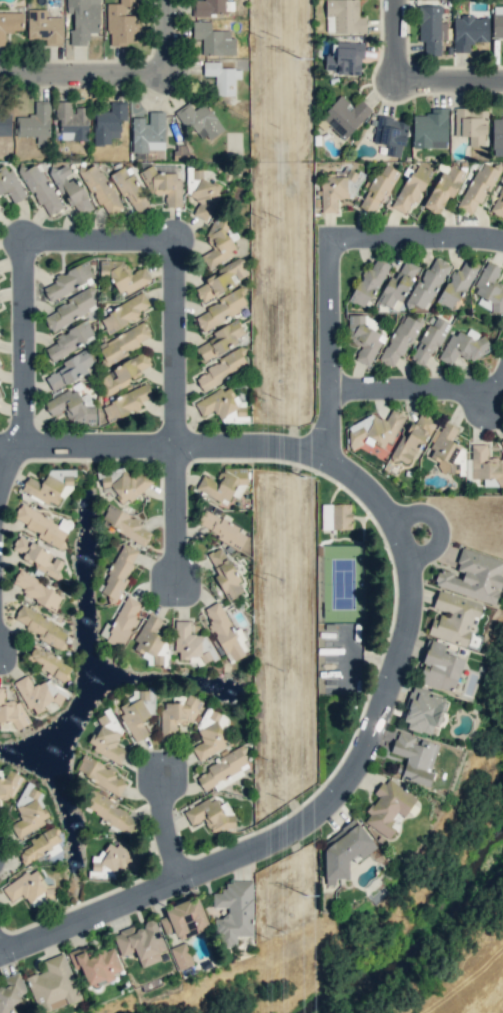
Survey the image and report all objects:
building: (209, 8)
building: (344, 17)
building: (83, 19)
building: (10, 23)
building: (122, 24)
building: (497, 25)
building: (45, 27)
building: (431, 28)
building: (469, 32)
road: (171, 36)
building: (213, 39)
road: (399, 42)
building: (344, 58)
power tower: (300, 62)
road: (86, 74)
building: (222, 78)
road: (451, 83)
building: (345, 115)
building: (199, 120)
building: (71, 121)
building: (35, 123)
building: (108, 123)
building: (5, 124)
building: (472, 125)
building: (430, 129)
building: (148, 133)
building: (390, 135)
building: (497, 136)
building: (10, 184)
building: (163, 185)
building: (412, 187)
building: (477, 187)
building: (338, 188)
building: (443, 188)
building: (40, 189)
building: (71, 189)
building: (100, 189)
building: (377, 189)
building: (130, 190)
building: (202, 193)
building: (498, 203)
road: (101, 238)
road: (418, 240)
building: (218, 242)
building: (124, 275)
building: (0, 276)
building: (222, 279)
building: (68, 281)
building: (369, 282)
building: (397, 284)
building: (427, 285)
building: (456, 285)
building: (489, 288)
building: (220, 309)
building: (69, 310)
building: (123, 313)
building: (363, 338)
building: (70, 339)
building: (221, 339)
building: (399, 341)
building: (429, 341)
building: (123, 343)
building: (463, 346)
road: (334, 351)
building: (0, 365)
building: (222, 368)
building: (70, 369)
building: (123, 373)
road: (419, 390)
building: (0, 395)
building: (125, 403)
building: (221, 403)
building: (71, 407)
building: (376, 429)
building: (412, 439)
building: (502, 440)
road: (259, 443)
road: (100, 444)
road: (10, 445)
building: (449, 452)
building: (485, 465)
road: (8, 473)
building: (223, 482)
power tower: (300, 482)
building: (125, 483)
building: (50, 486)
road: (179, 512)
building: (336, 516)
building: (124, 523)
building: (42, 526)
building: (220, 528)
building: (39, 557)
building: (119, 571)
building: (224, 573)
building: (473, 576)
building: (38, 591)
building: (453, 617)
building: (122, 622)
building: (40, 626)
building: (223, 632)
building: (150, 638)
building: (241, 640)
building: (192, 645)
building: (48, 662)
building: (439, 668)
building: (39, 693)
road: (387, 702)
building: (423, 710)
building: (10, 711)
building: (137, 712)
building: (177, 715)
building: (210, 734)
building: (108, 737)
building: (414, 757)
building: (224, 769)
building: (101, 775)
building: (8, 784)
building: (388, 807)
building: (28, 812)
building: (110, 812)
building: (210, 814)
road: (173, 825)
building: (39, 847)
building: (345, 849)
building: (113, 862)
building: (29, 888)
power tower: (305, 898)
building: (234, 912)
road: (95, 916)
building: (184, 918)
building: (141, 942)
road: (3, 945)
building: (181, 955)
building: (95, 964)
building: (53, 984)
building: (12, 994)

